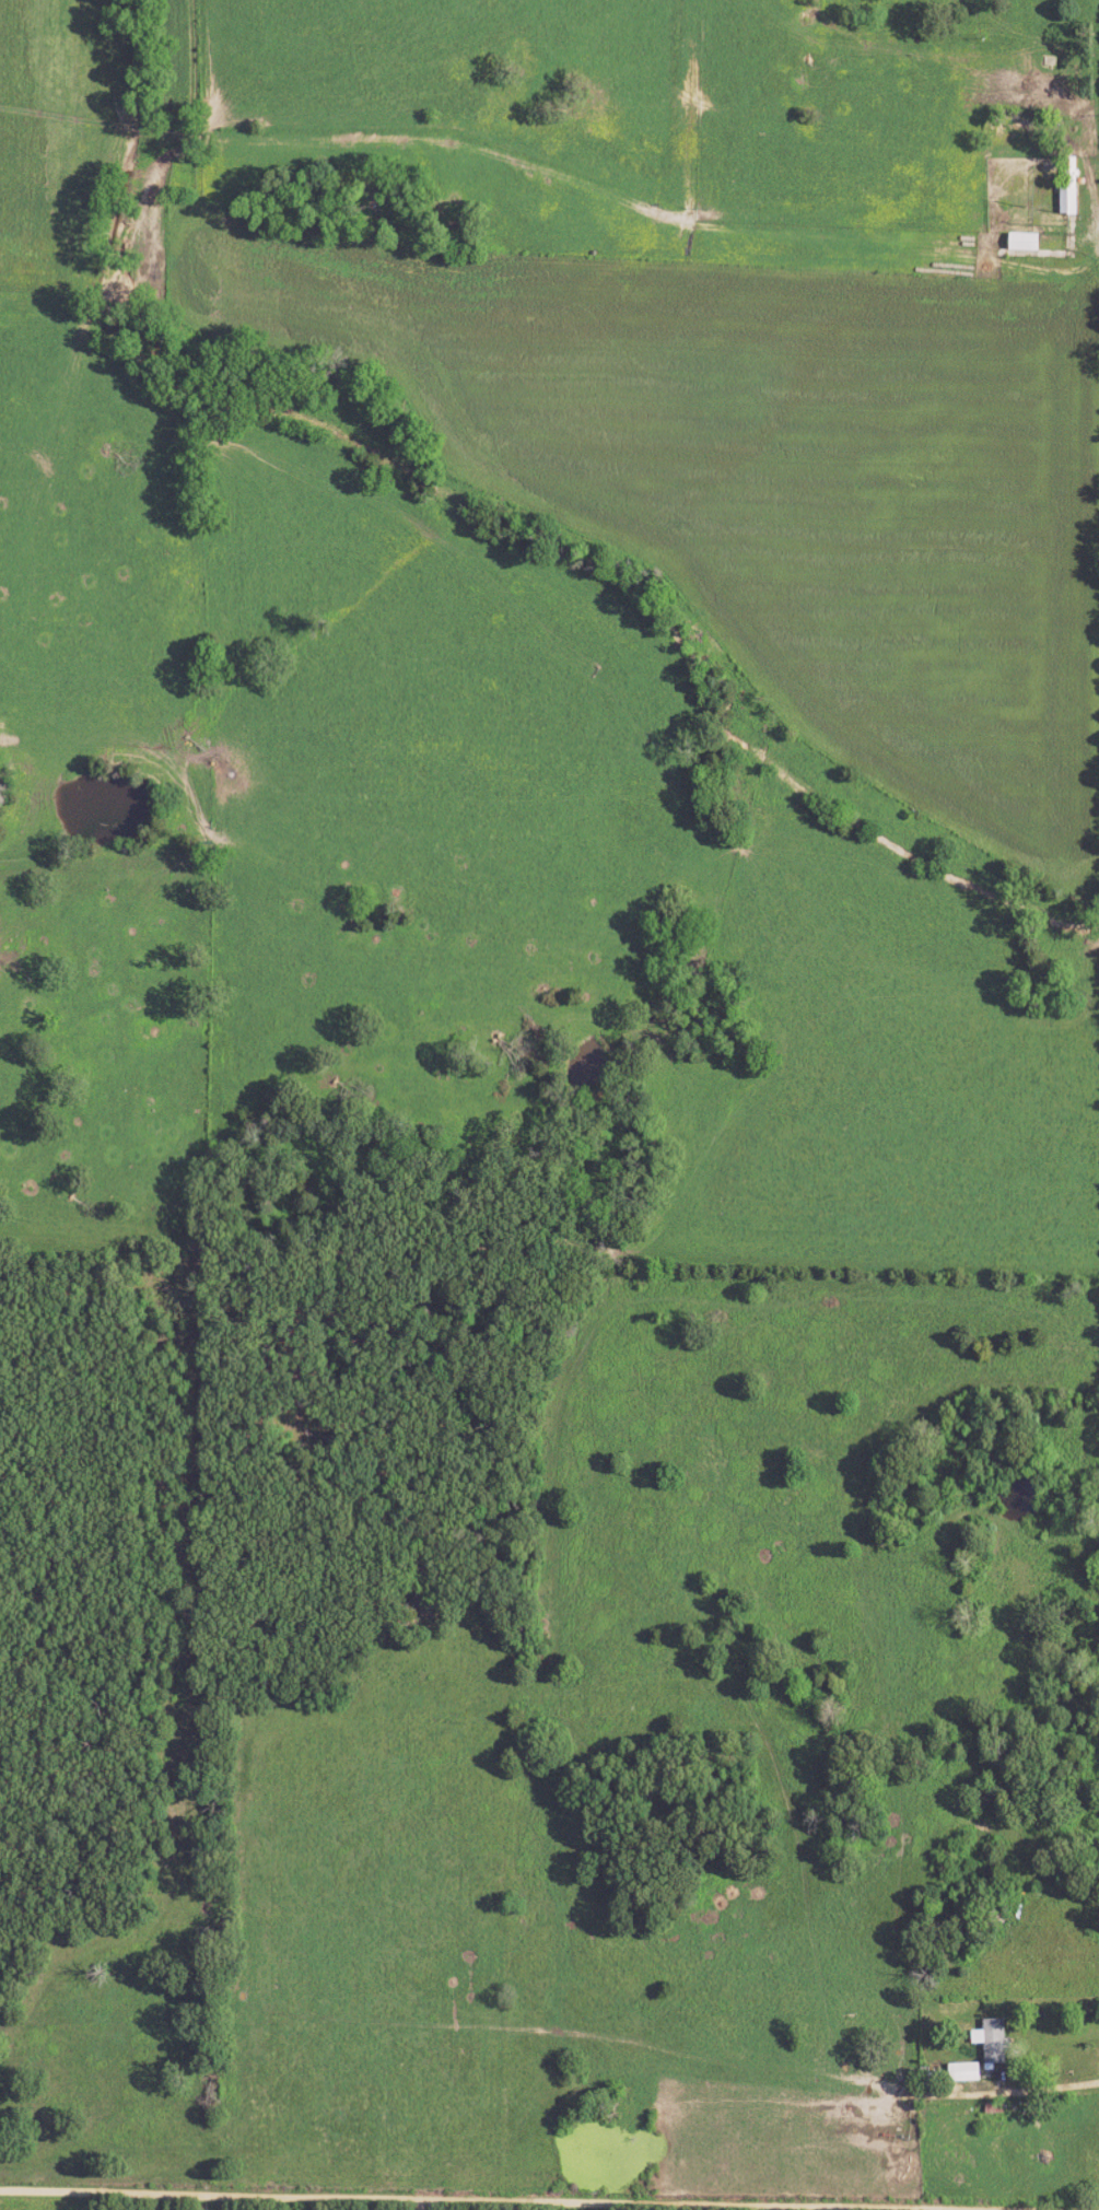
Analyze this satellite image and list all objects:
building: (1072, 201)
building: (1029, 243)
building: (997, 2043)
building: (970, 2072)
road: (1049, 2089)
road: (518, 2202)

